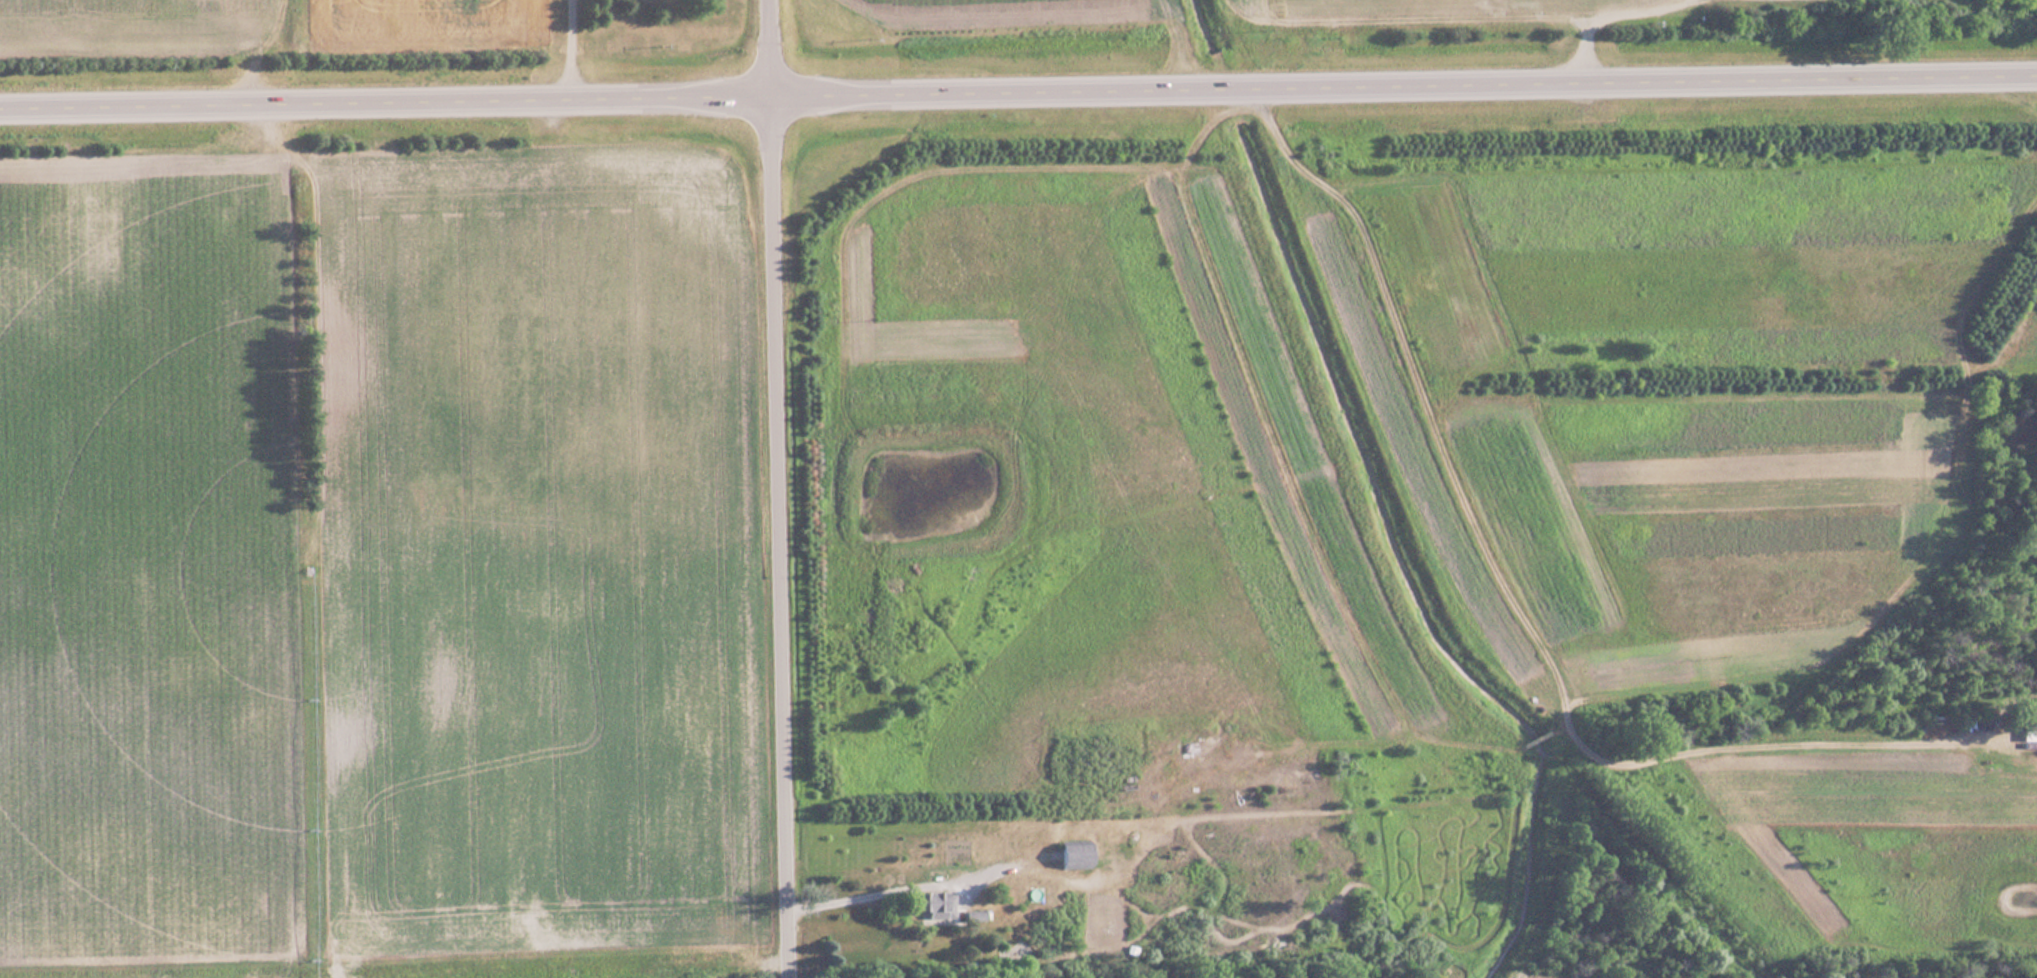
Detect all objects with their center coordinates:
road: (1018, 97)
road: (775, 489)
building: (2027, 737)
building: (1070, 855)
road: (866, 891)
building: (928, 903)

